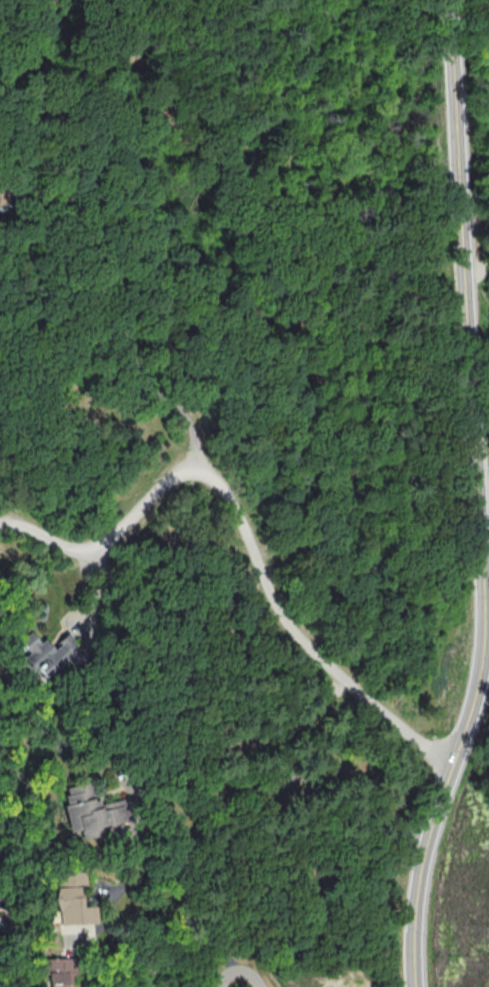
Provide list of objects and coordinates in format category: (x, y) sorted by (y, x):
road: (479, 276)
road: (465, 277)
road: (132, 355)
road: (476, 498)
road: (483, 525)
road: (97, 542)
road: (293, 631)
building: (49, 653)
road: (484, 687)
road: (293, 778)
building: (89, 810)
building: (70, 898)
road: (190, 905)
road: (138, 963)
building: (58, 972)

